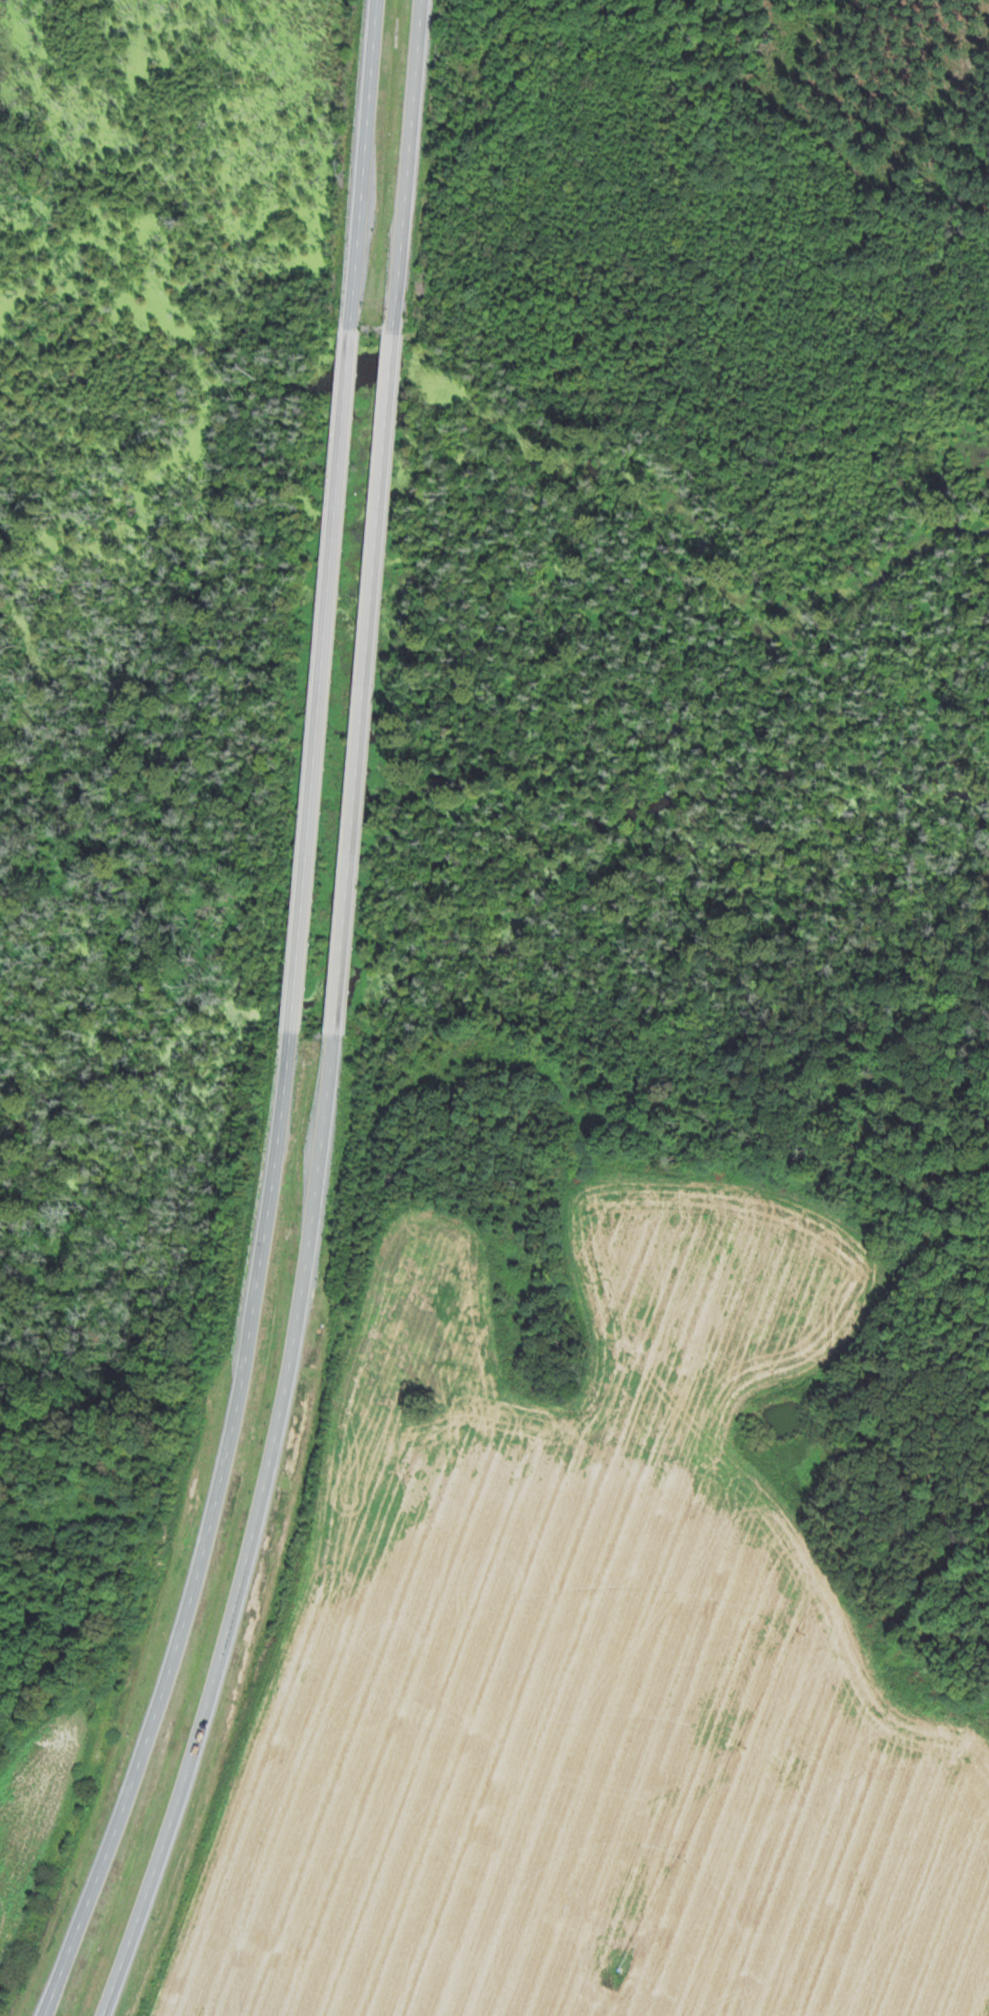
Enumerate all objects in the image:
road: (366, 164)
road: (410, 166)
building: (372, 588)
road: (322, 679)
road: (365, 682)
road: (221, 1535)
road: (271, 1536)

